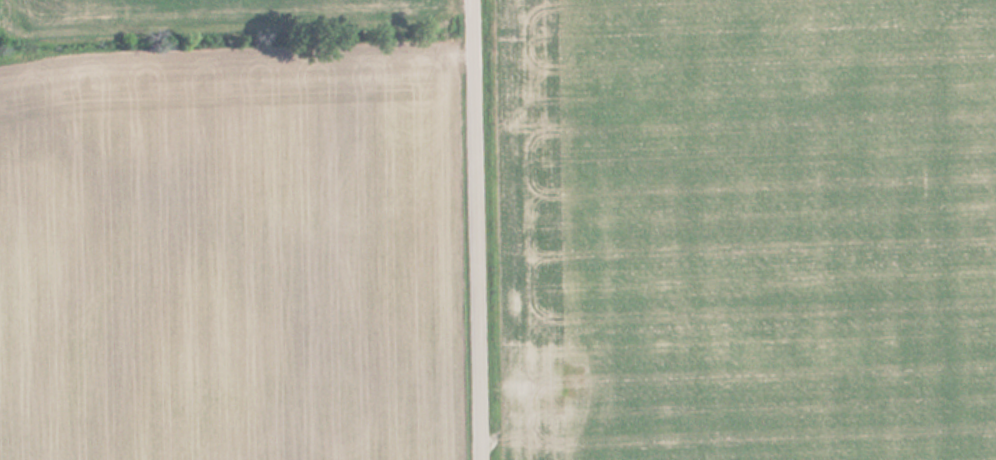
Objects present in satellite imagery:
road: (478, 230)

